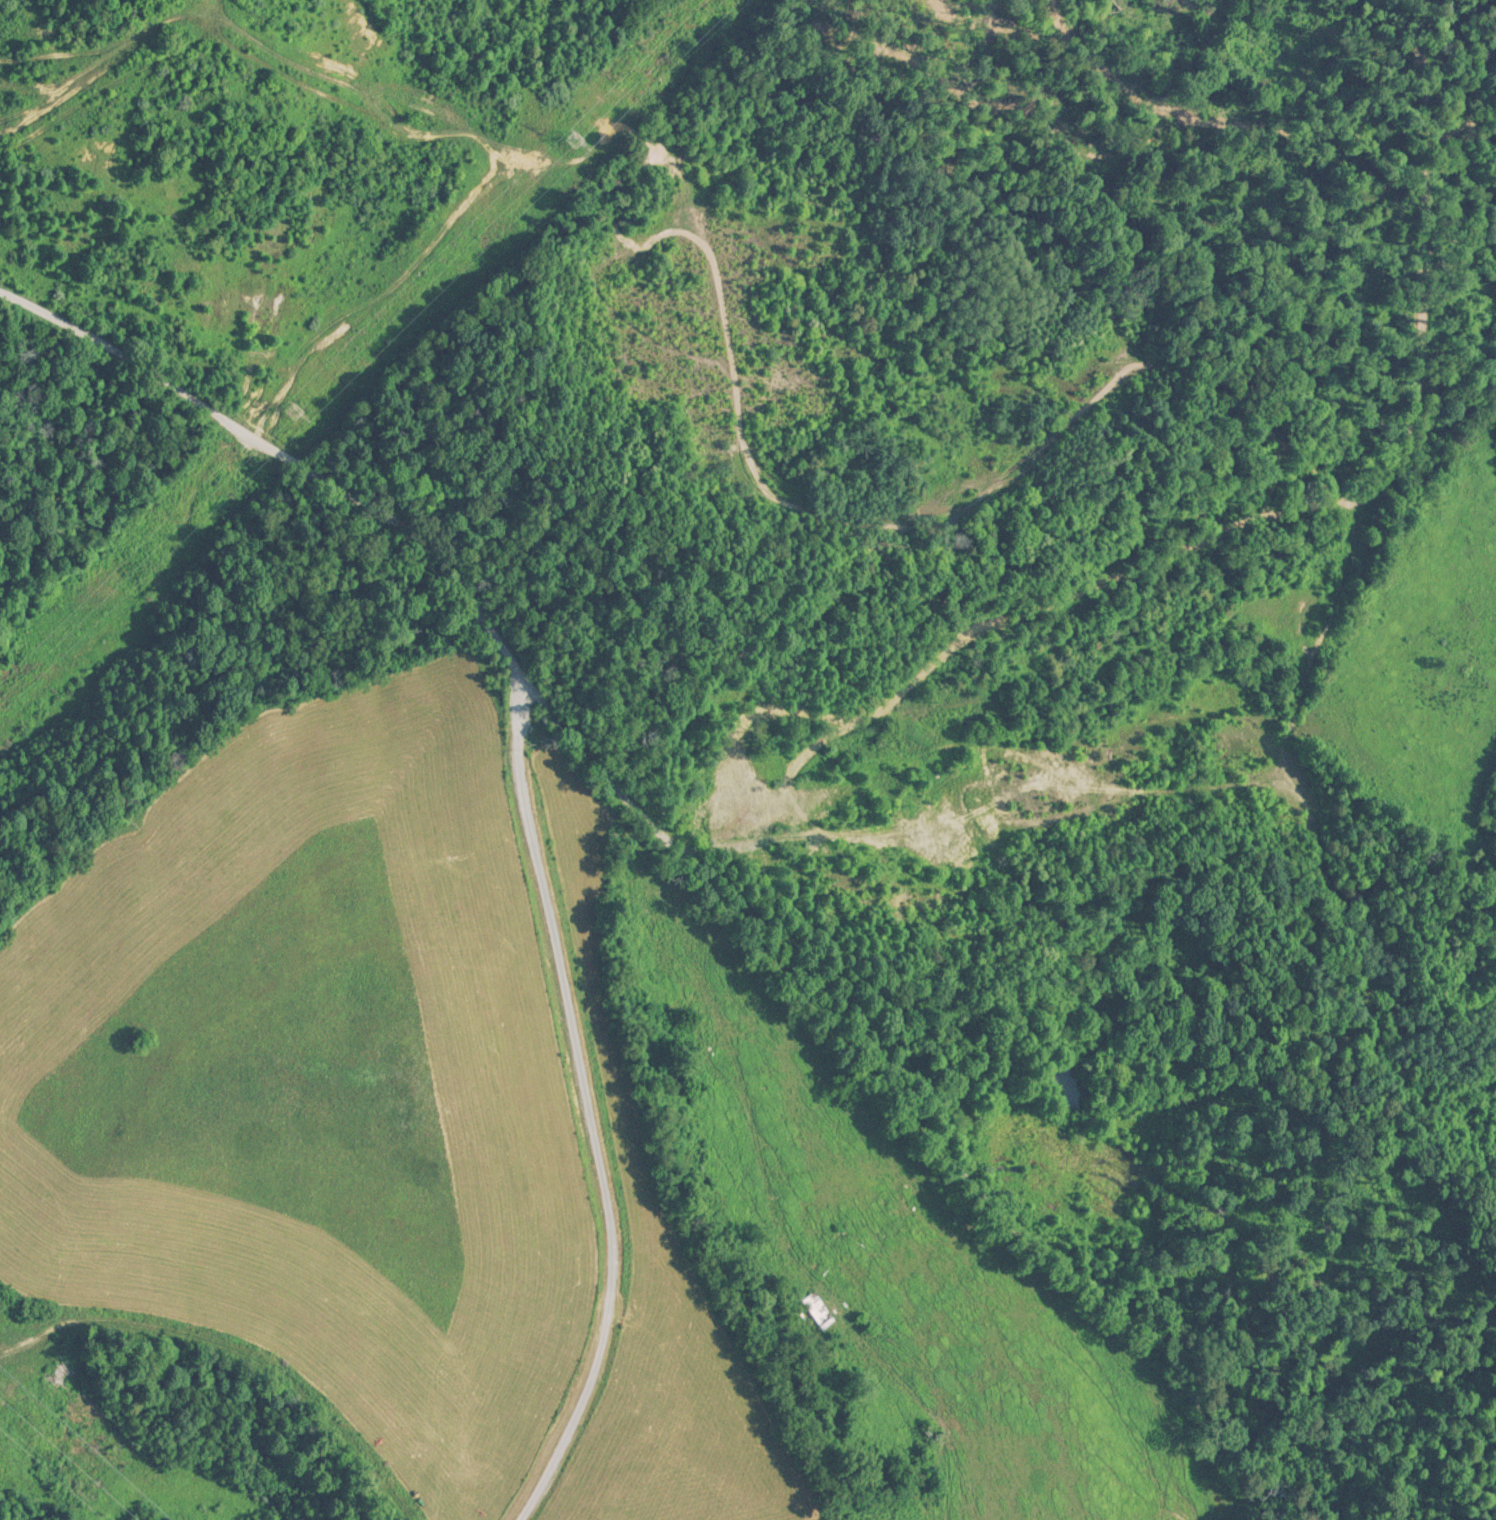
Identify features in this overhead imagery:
power tower: (564, 130)
road: (680, 847)
building: (819, 1312)

